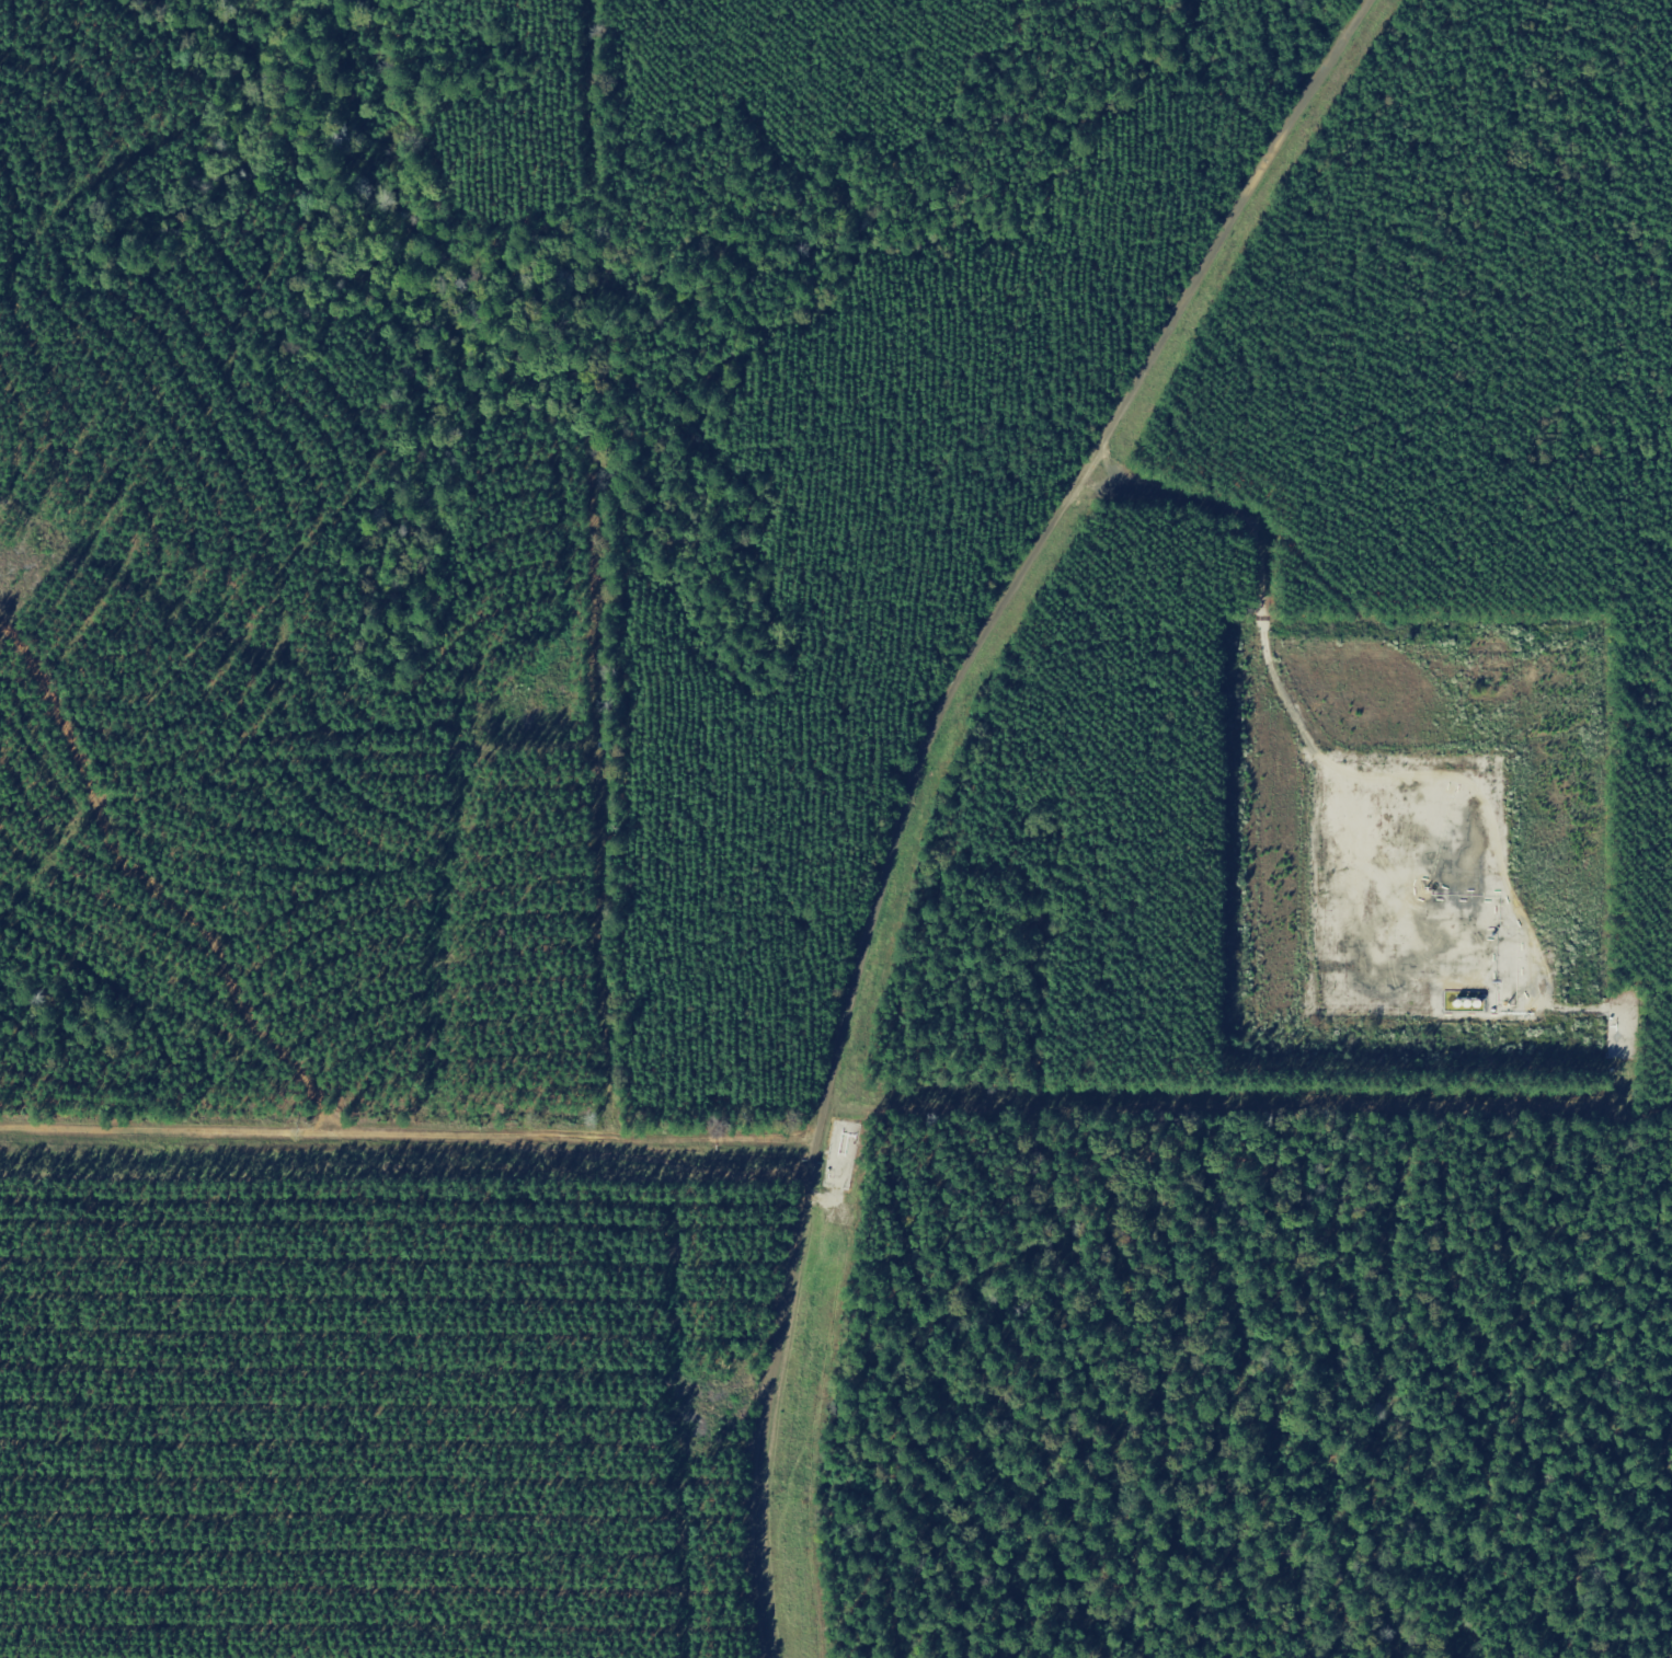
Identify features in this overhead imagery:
road: (960, 782)

